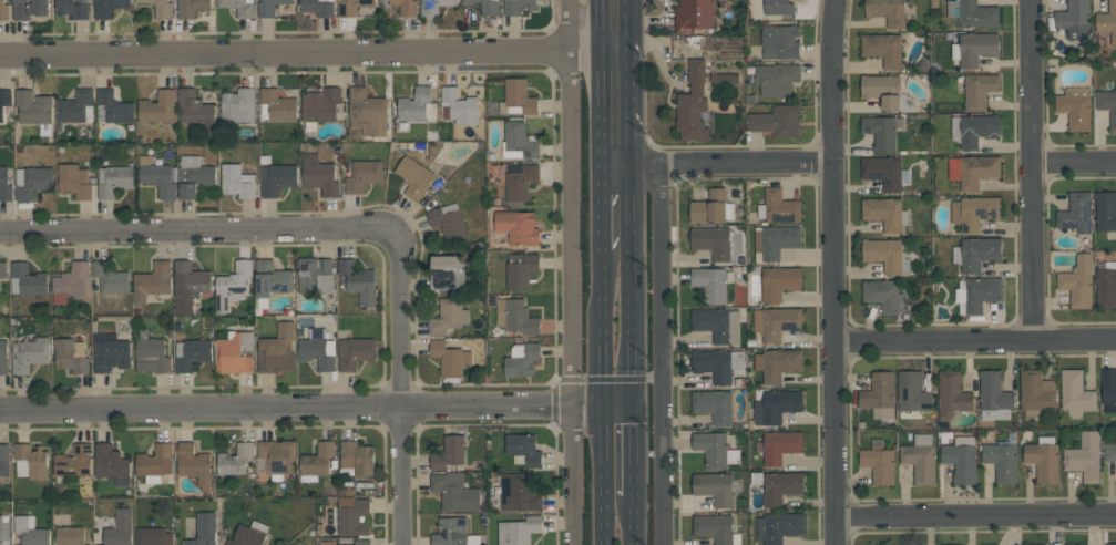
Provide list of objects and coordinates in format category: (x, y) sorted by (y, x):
building: (354, 6)
building: (485, 6)
building: (518, 6)
building: (109, 7)
building: (192, 7)
building: (238, 7)
building: (269, 7)
building: (318, 7)
building: (407, 7)
building: (434, 7)
building: (778, 7)
building: (161, 8)
building: (30, 9)
building: (72, 9)
building: (3, 10)
building: (888, 11)
building: (694, 14)
building: (976, 14)
building: (1073, 20)
building: (1107, 21)
road: (570, 28)
road: (626, 30)
building: (780, 41)
building: (974, 48)
building: (883, 49)
road: (600, 55)
road: (286, 56)
building: (724, 78)
building: (777, 79)
road: (598, 88)
building: (882, 89)
building: (979, 90)
building: (519, 96)
building: (4, 101)
building: (693, 103)
building: (416, 104)
building: (1107, 104)
building: (238, 105)
building: (277, 105)
building: (75, 106)
building: (157, 106)
building: (320, 106)
building: (460, 106)
building: (113, 107)
building: (195, 107)
building: (1075, 107)
building: (35, 110)
building: (368, 110)
road: (629, 119)
building: (777, 121)
building: (974, 130)
building: (880, 132)
building: (519, 142)
road: (1074, 161)
road: (714, 164)
building: (973, 169)
road: (1032, 169)
building: (885, 172)
building: (319, 175)
building: (362, 175)
building: (194, 176)
building: (157, 177)
building: (413, 177)
building: (276, 178)
building: (114, 181)
building: (520, 181)
building: (32, 182)
building: (74, 182)
building: (237, 182)
building: (6, 184)
building: (779, 207)
building: (711, 208)
building: (974, 212)
road: (601, 213)
building: (884, 213)
building: (1076, 213)
building: (1106, 214)
building: (448, 220)
building: (518, 226)
road: (286, 232)
building: (711, 241)
building: (775, 241)
building: (976, 253)
building: (885, 254)
building: (3, 269)
building: (521, 269)
road: (832, 271)
building: (447, 274)
building: (315, 276)
building: (111, 278)
building: (27, 279)
building: (153, 281)
building: (270, 281)
building: (359, 281)
building: (1078, 281)
building: (711, 282)
building: (779, 282)
building: (73, 284)
building: (188, 285)
building: (233, 285)
building: (1106, 285)
road: (632, 289)
building: (977, 294)
building: (884, 295)
road: (573, 300)
building: (515, 316)
building: (448, 317)
building: (776, 322)
building: (717, 323)
road: (975, 340)
building: (318, 349)
building: (277, 350)
building: (110, 352)
building: (235, 352)
building: (355, 352)
building: (192, 353)
building: (29, 354)
building: (71, 354)
road: (662, 354)
building: (152, 356)
building: (3, 357)
building: (450, 358)
building: (522, 359)
building: (717, 363)
building: (778, 363)
road: (617, 378)
building: (1108, 390)
building: (1075, 391)
building: (912, 392)
building: (1036, 392)
building: (880, 394)
building: (952, 394)
building: (994, 397)
road: (602, 398)
traffic signals: (602, 404)
traffic signals: (634, 405)
building: (714, 405)
building: (776, 405)
road: (317, 409)
building: (779, 445)
building: (523, 450)
building: (715, 450)
road: (634, 451)
building: (1110, 452)
building: (450, 453)
building: (1085, 456)
building: (357, 457)
building: (235, 459)
building: (276, 459)
building: (920, 459)
building: (961, 459)
building: (1002, 459)
building: (1043, 460)
building: (31, 462)
building: (74, 462)
building: (155, 462)
building: (317, 462)
building: (879, 462)
building: (4, 463)
building: (112, 464)
building: (194, 464)
road: (399, 476)
building: (778, 485)
building: (715, 487)
building: (454, 492)
building: (518, 492)
building: (352, 515)
road: (976, 515)
road: (635, 521)
building: (778, 527)
building: (120, 528)
building: (716, 528)
building: (204, 529)
building: (30, 531)
building: (519, 531)
building: (453, 532)
building: (3, 533)
building: (249, 534)
building: (70, 536)
building: (153, 536)
building: (362, 542)
building: (990, 544)
building: (1076, 544)
building: (1110, 544)

